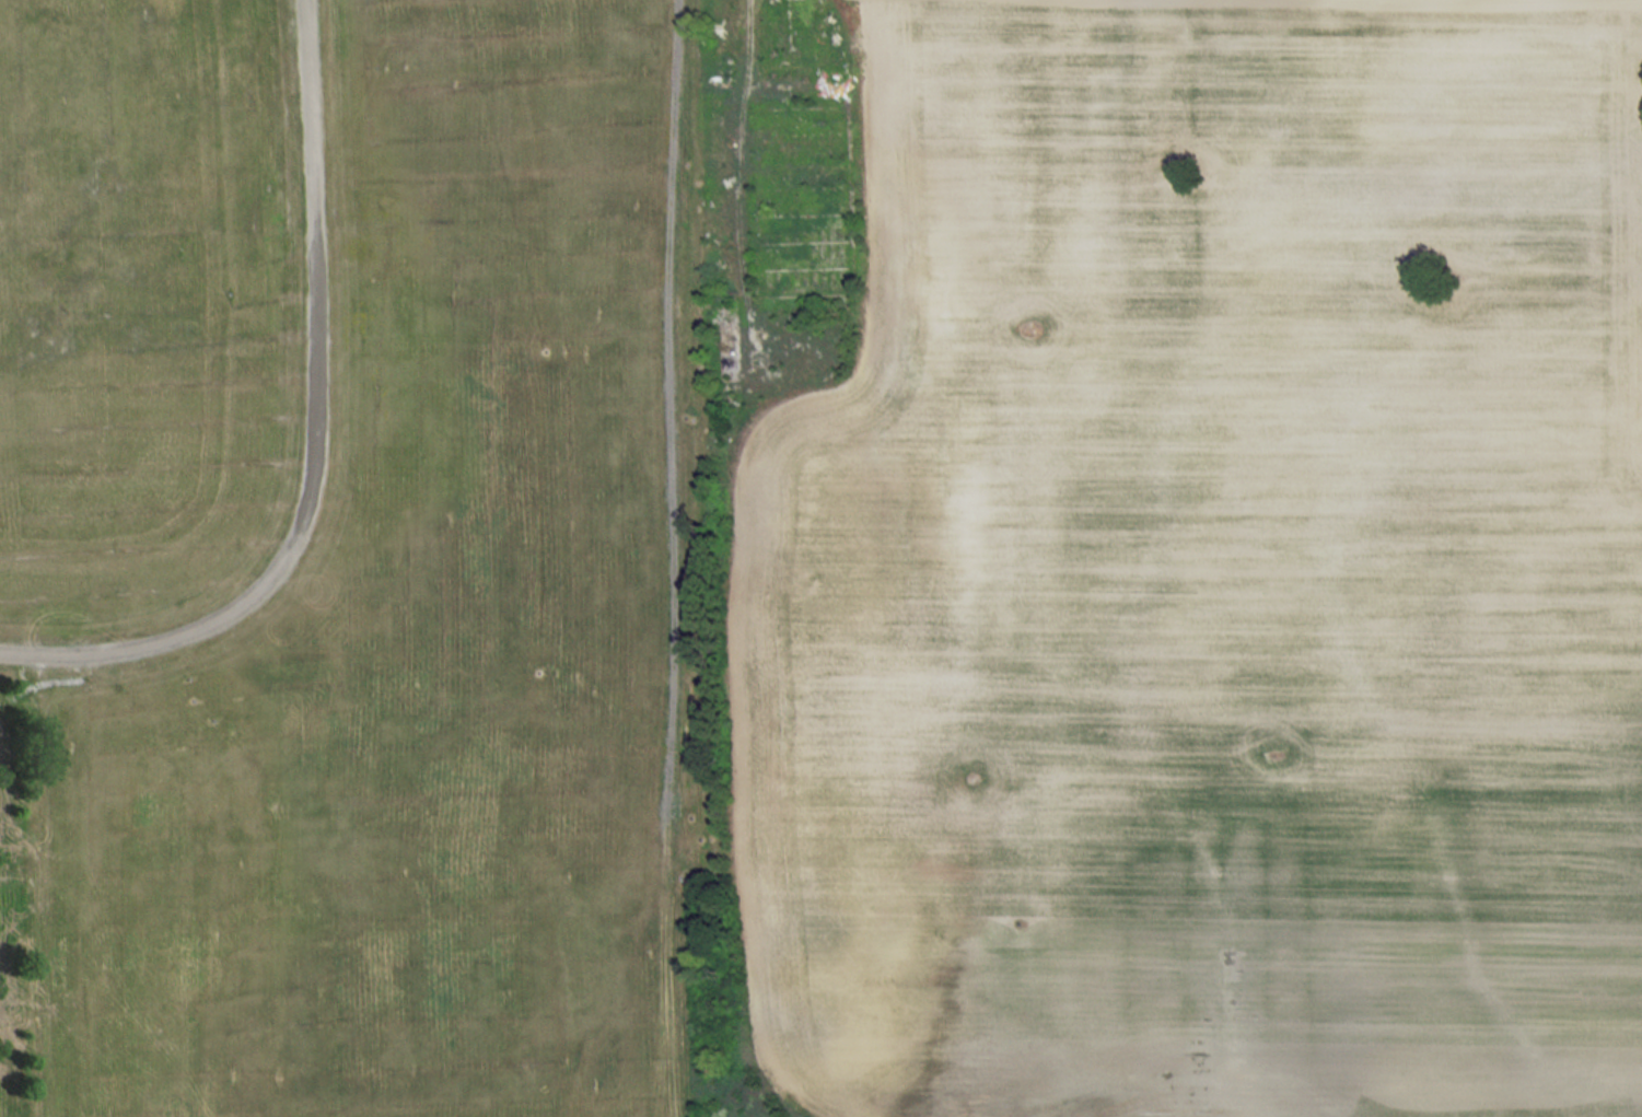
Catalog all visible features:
building: (785, 35)
building: (801, 196)
road: (308, 437)
crop: (1208, 577)

